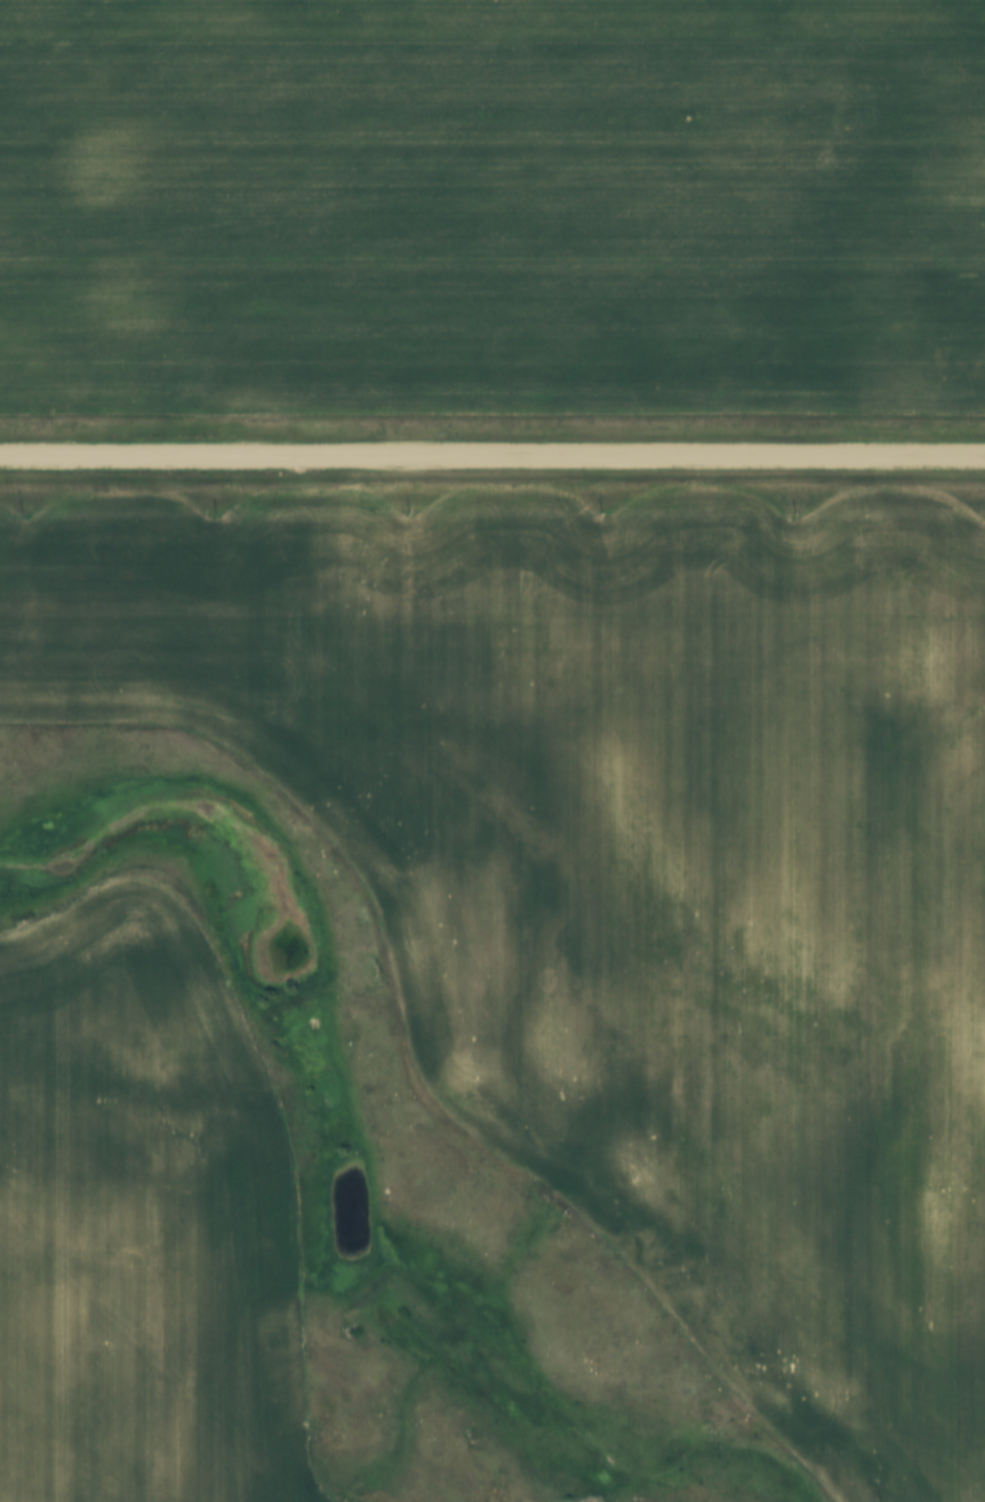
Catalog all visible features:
road: (492, 459)

